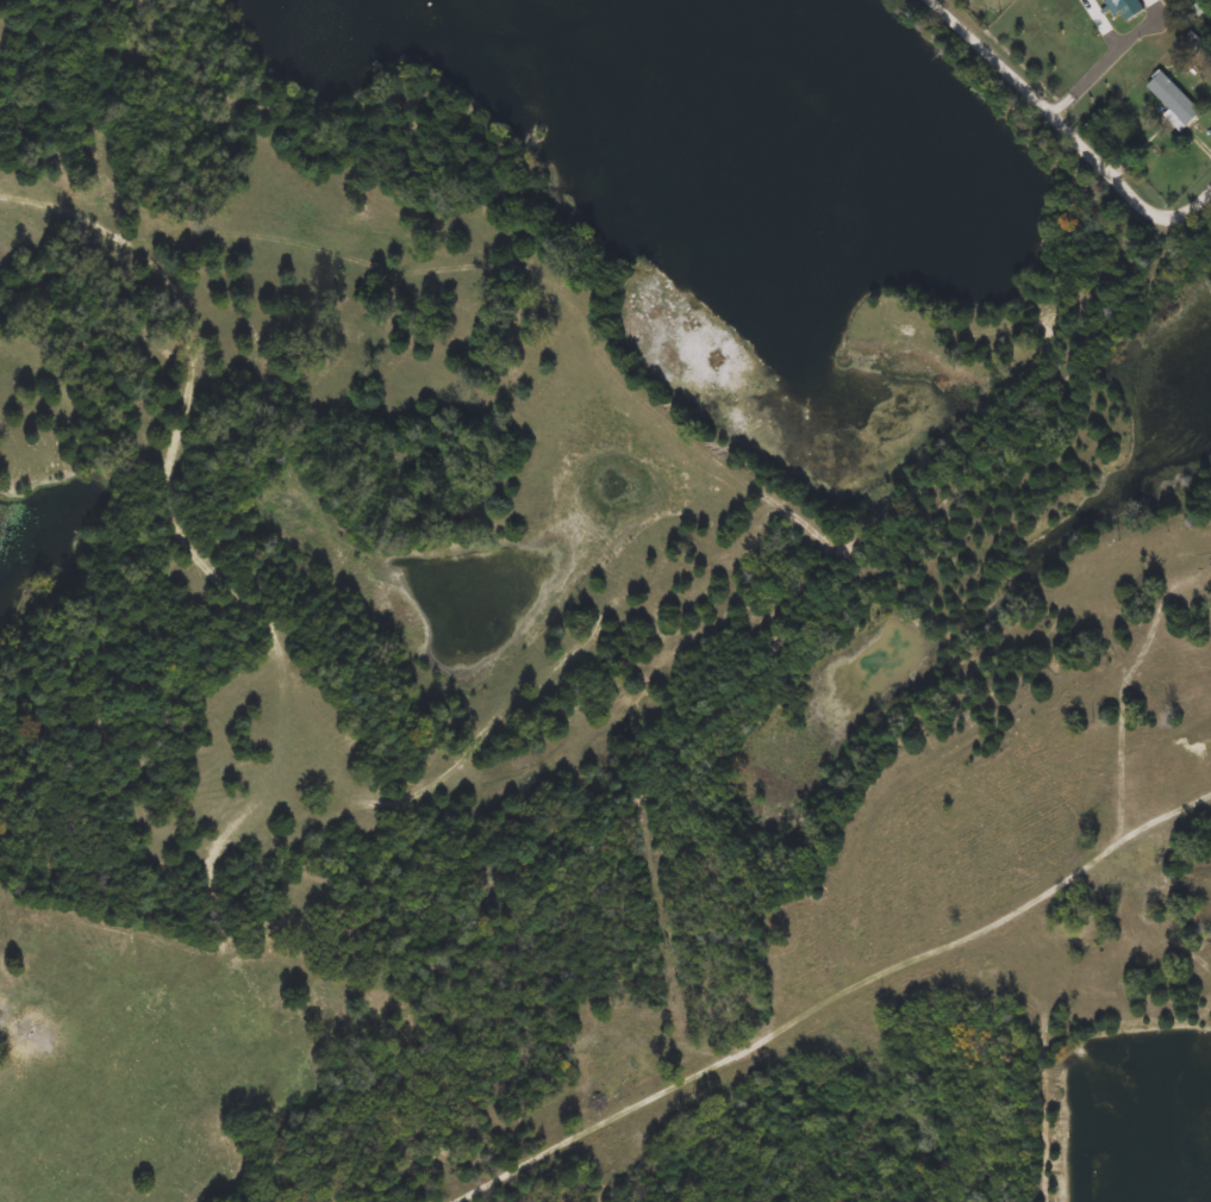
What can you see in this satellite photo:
building: (1125, 7)
road: (1109, 62)
building: (1174, 100)
road: (1065, 130)

